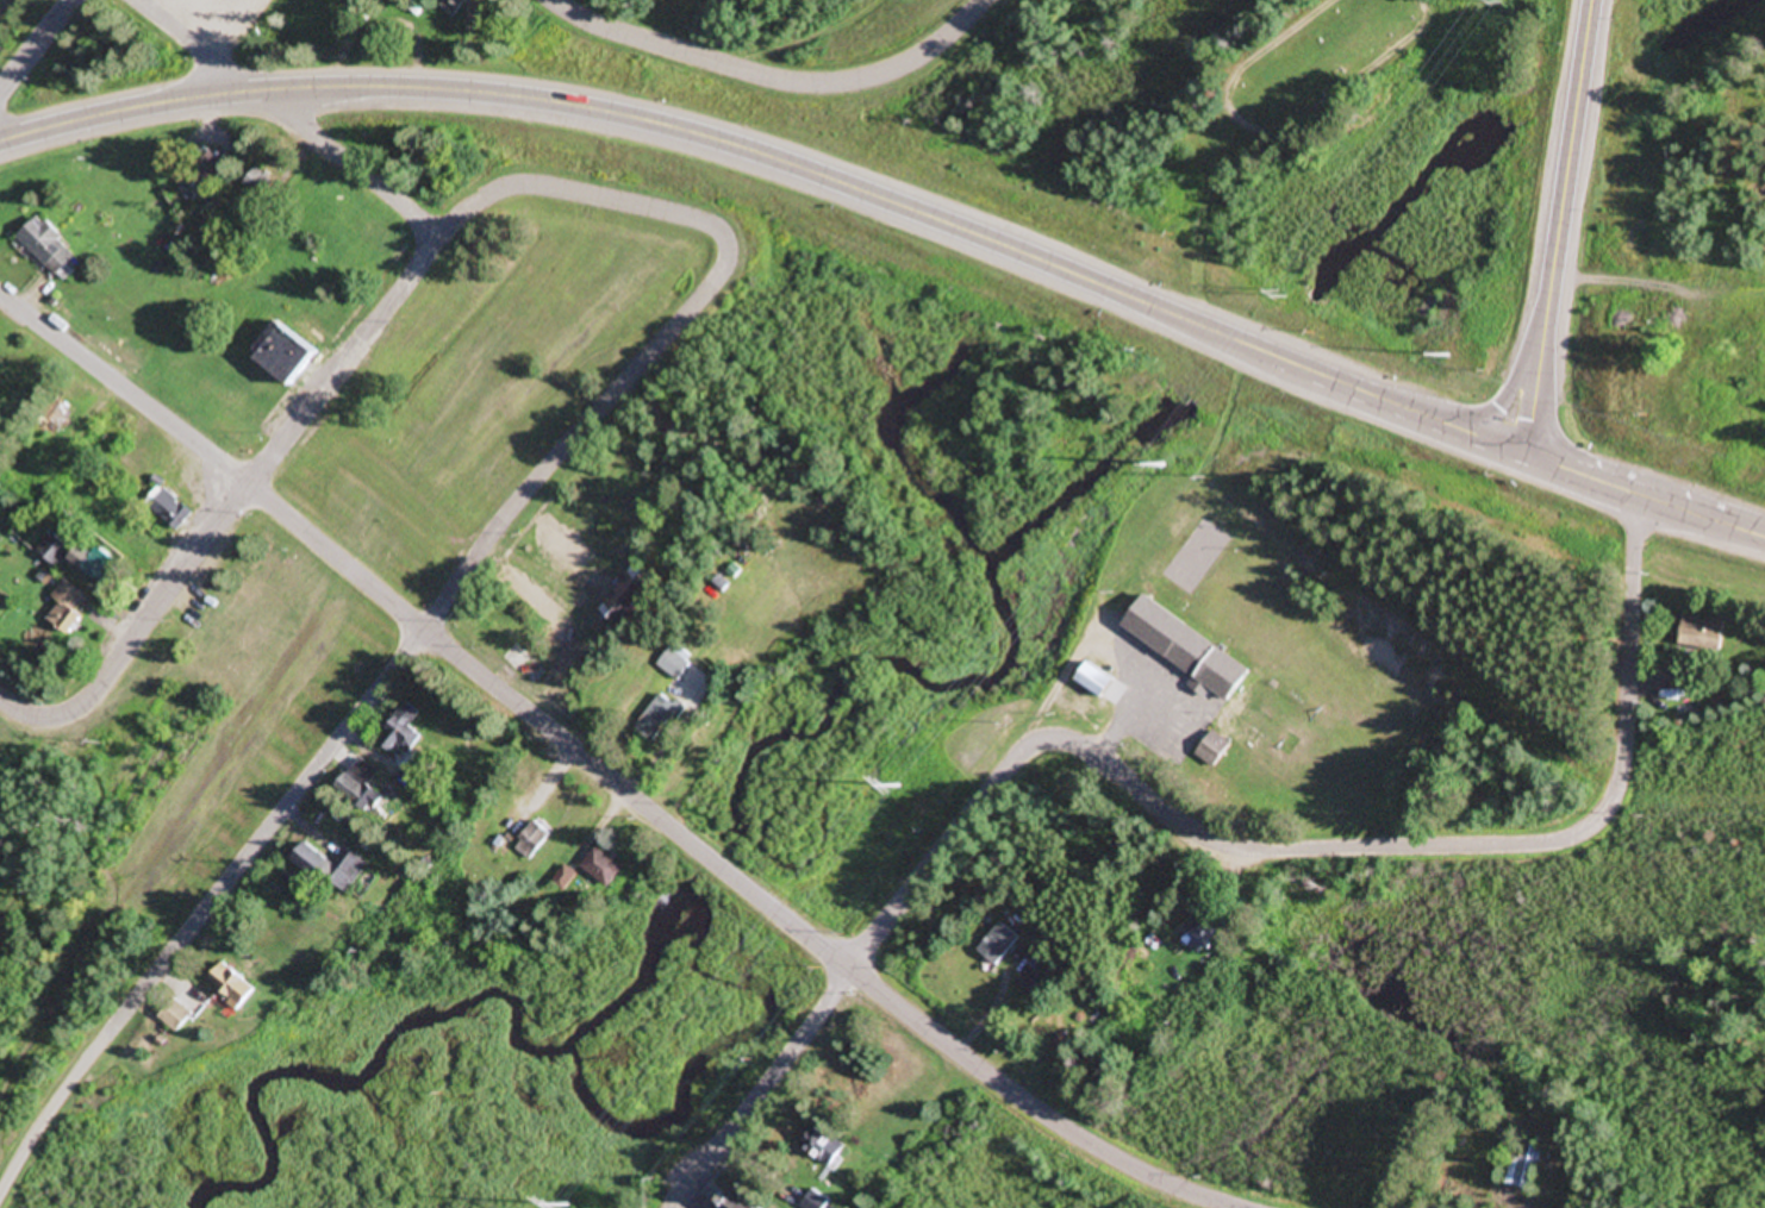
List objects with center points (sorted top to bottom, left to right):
power tower: (1497, 1)
building: (455, 6)
road: (37, 48)
road: (773, 77)
road: (625, 114)
road: (292, 118)
road: (1568, 146)
park: (1264, 163)
building: (210, 173)
building: (261, 190)
road: (637, 207)
building: (48, 248)
power tower: (1280, 296)
road: (381, 320)
building: (286, 355)
road: (1306, 371)
road: (1539, 376)
road: (124, 386)
road: (1502, 399)
building: (62, 417)
road: (1461, 432)
road: (575, 438)
power tower: (1161, 467)
park: (364, 495)
road: (1646, 496)
building: (169, 509)
park: (1171, 536)
building: (565, 540)
building: (54, 550)
building: (100, 565)
building: (67, 607)
road: (138, 633)
building: (1707, 633)
building: (1189, 649)
building: (678, 664)
building: (1103, 684)
building: (660, 719)
building: (404, 731)
building: (1214, 751)
building: (363, 787)
power tower: (898, 788)
road: (1186, 826)
building: (535, 841)
road: (723, 865)
building: (605, 869)
building: (335, 870)
building: (566, 880)
road: (204, 907)
building: (1206, 933)
building: (1000, 944)
building: (1037, 984)
building: (235, 987)
building: (177, 1016)
building: (824, 1146)
building: (1526, 1168)
building: (738, 1201)
building: (816, 1201)
power tower: (569, 1207)

